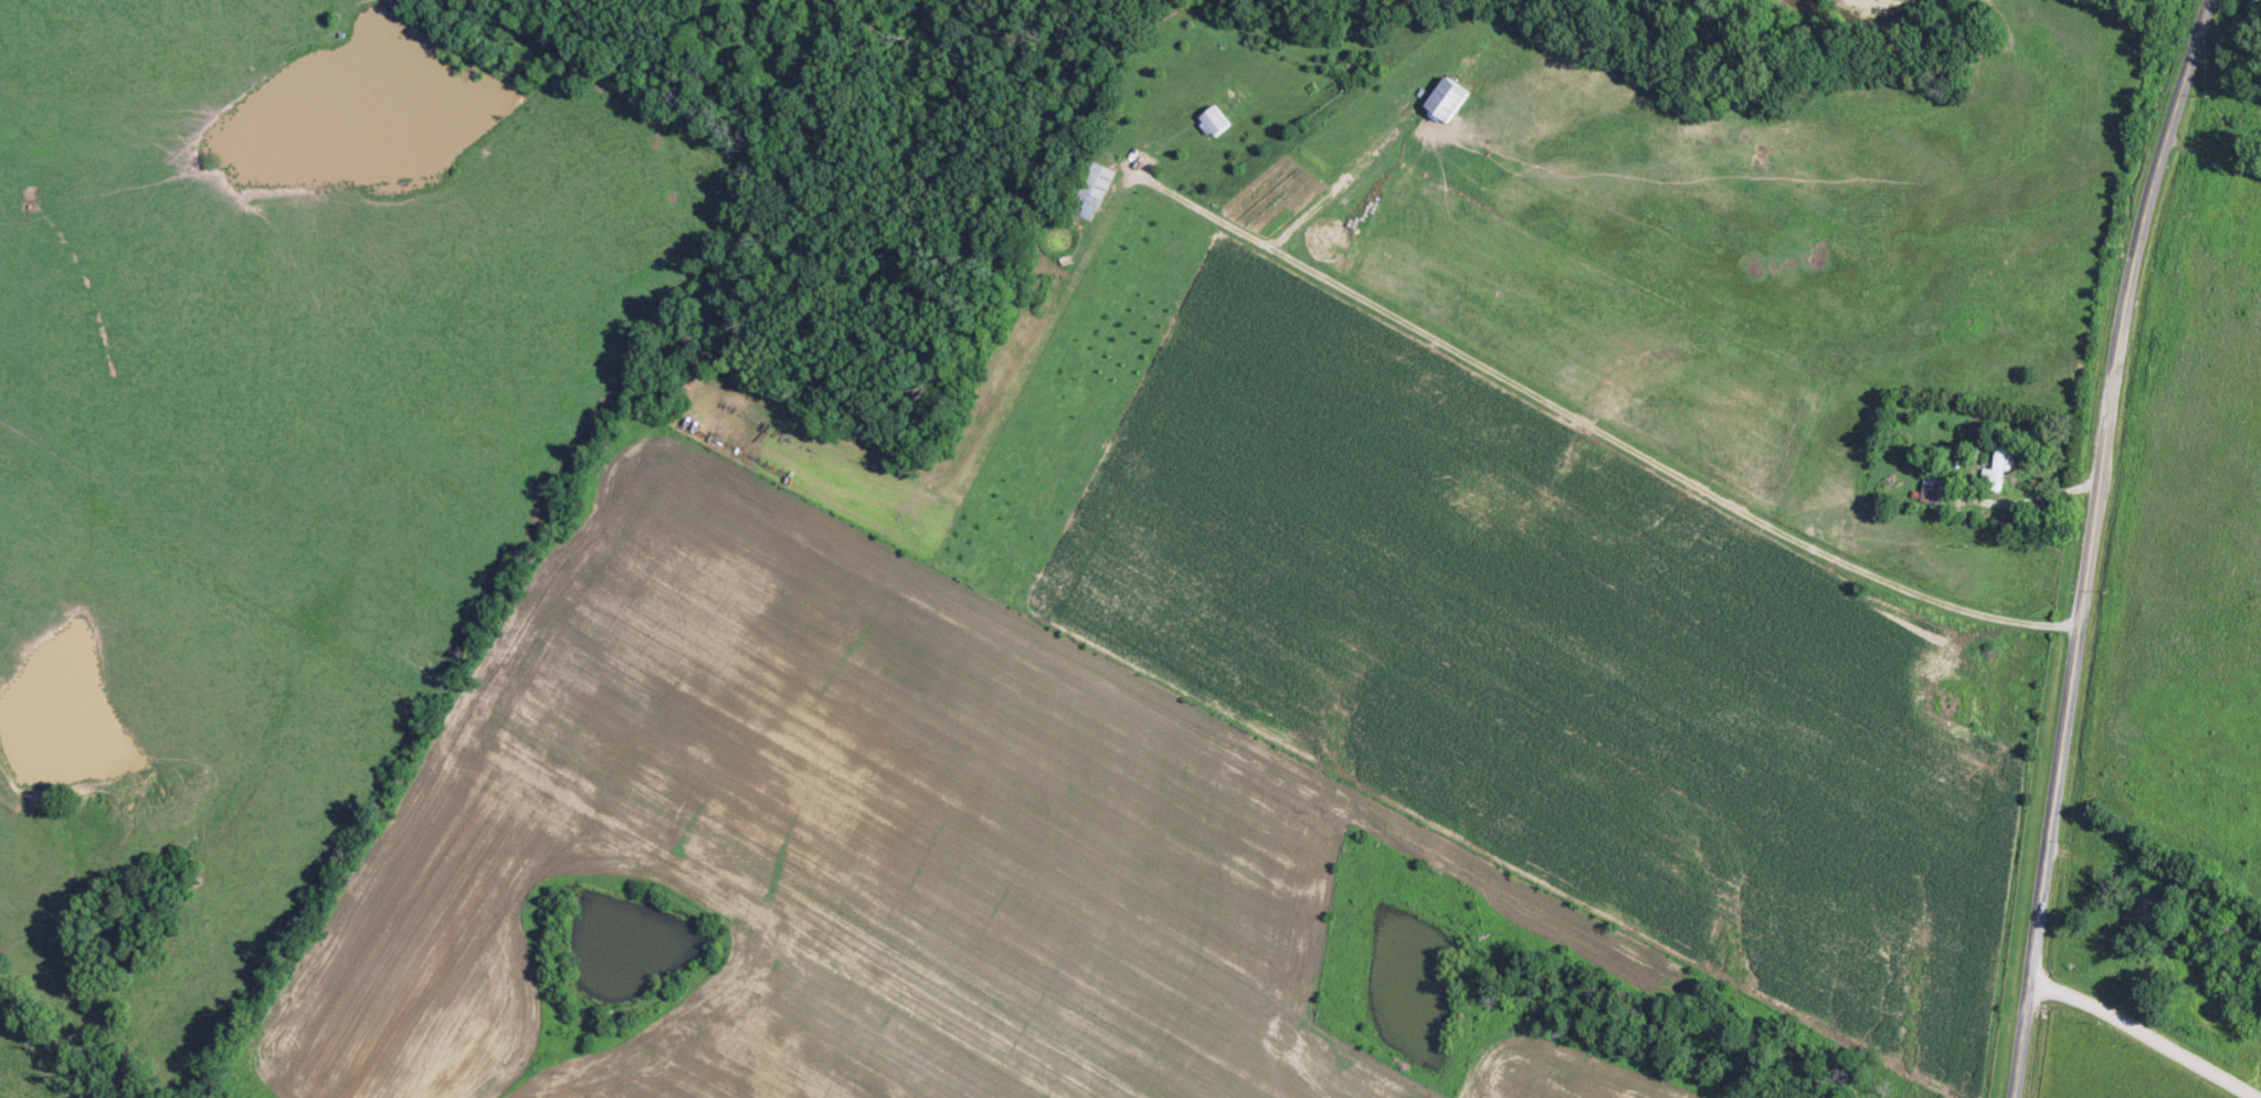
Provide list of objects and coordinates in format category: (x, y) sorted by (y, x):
building: (1451, 98)
building: (1215, 122)
building: (1095, 190)
building: (2000, 465)
building: (1933, 488)
road: (2022, 499)
road: (2090, 543)
park: (2205, 956)
road: (2146, 1032)

